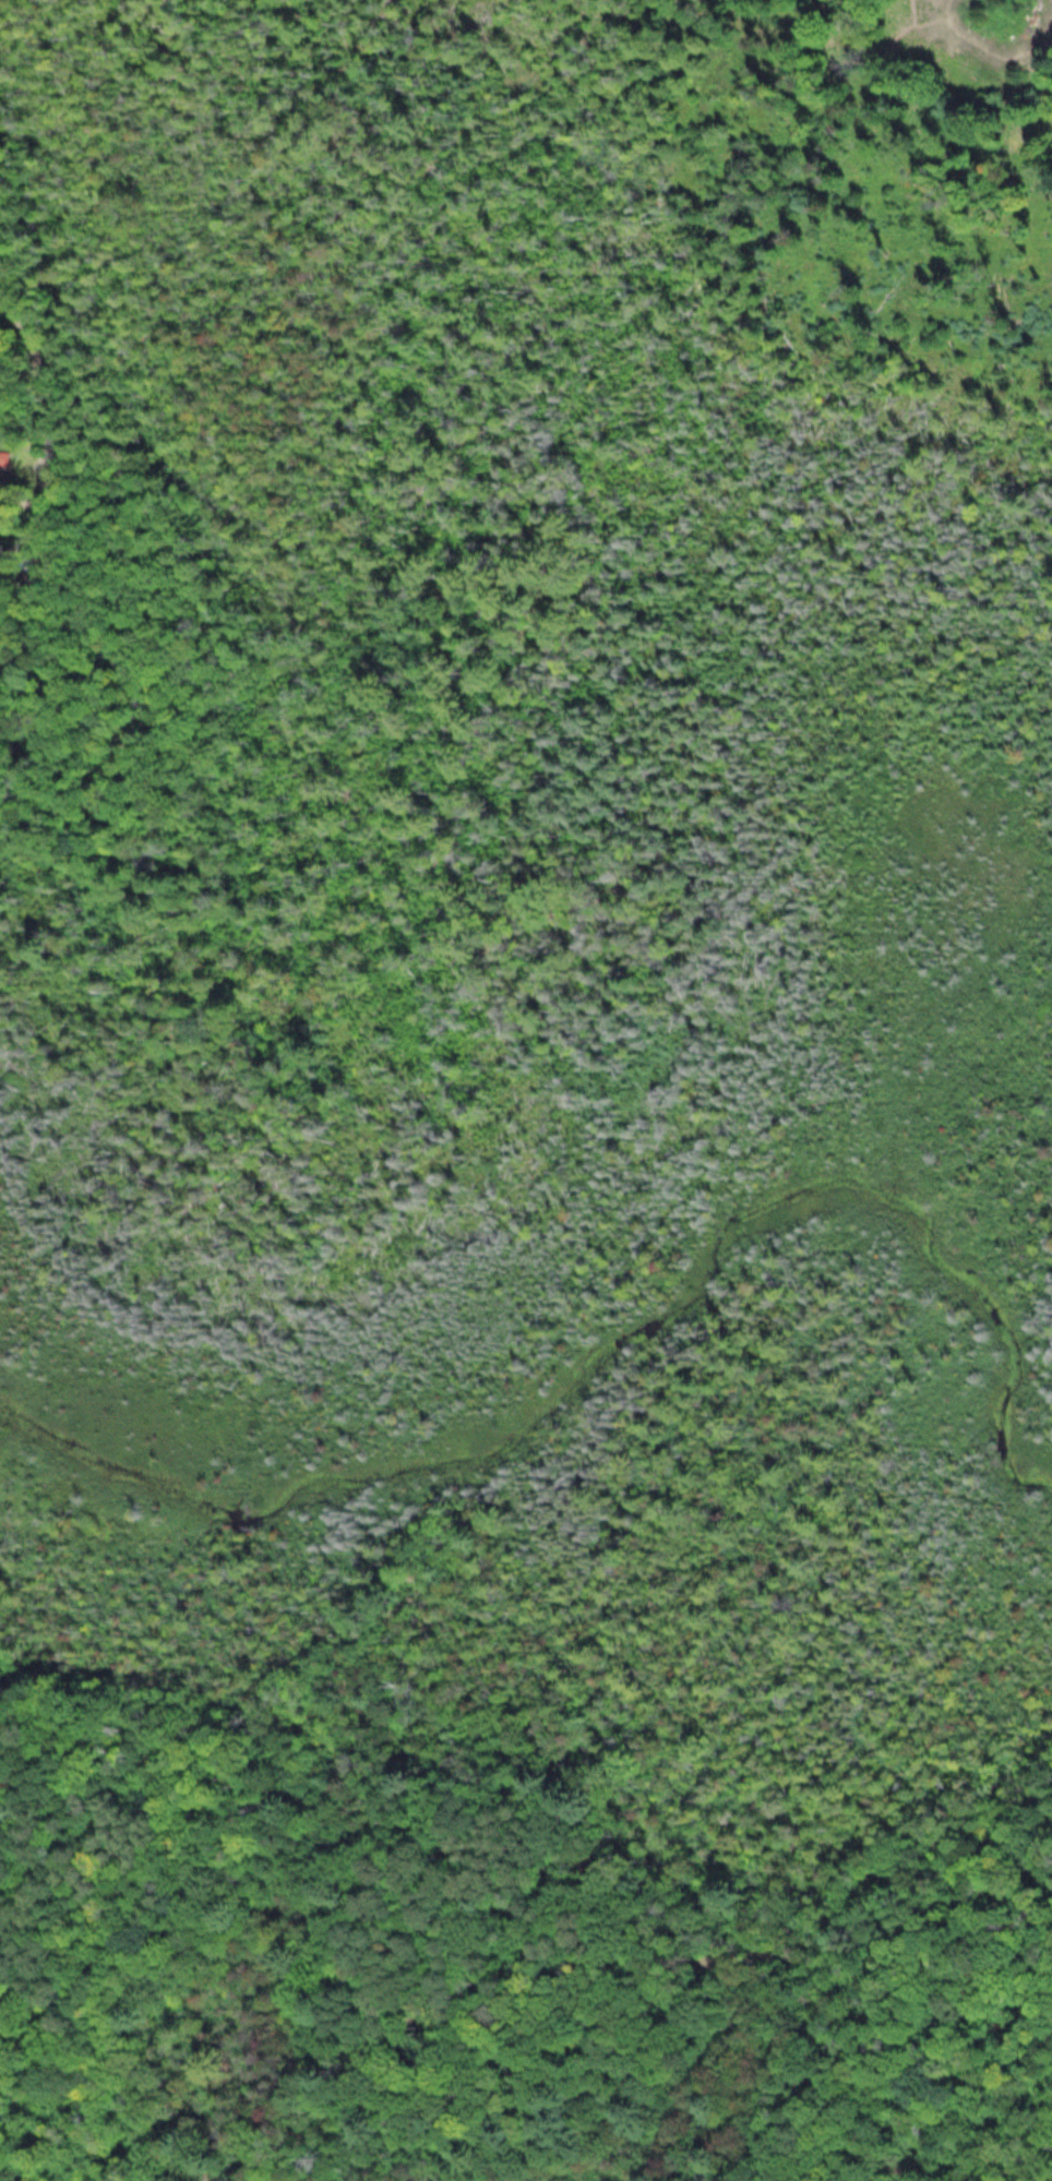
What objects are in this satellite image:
road: (46, 474)

